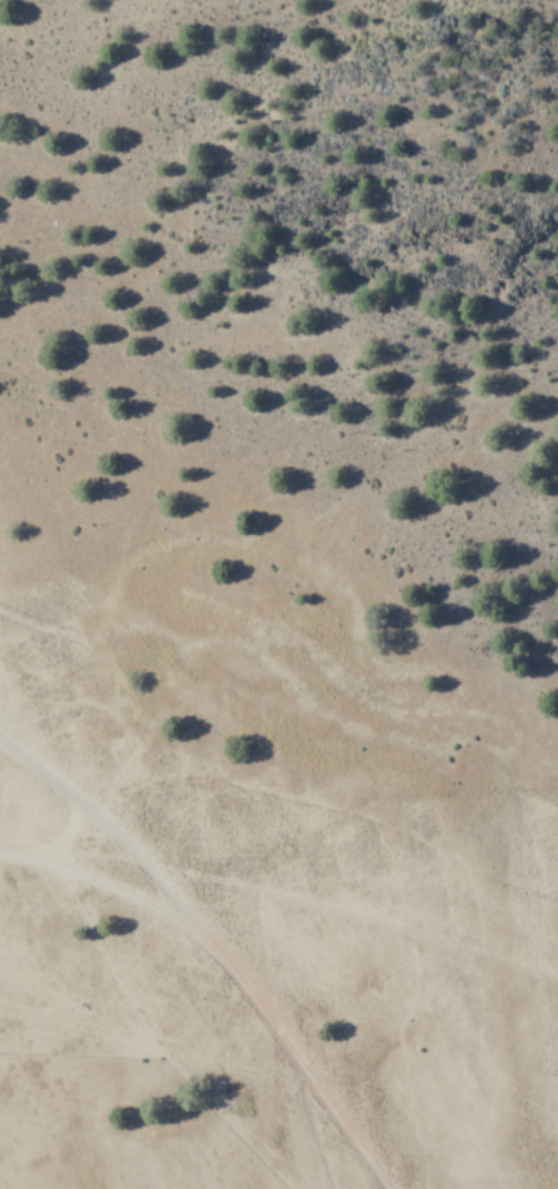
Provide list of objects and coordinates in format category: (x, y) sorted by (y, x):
road: (96, 878)
road: (215, 945)

